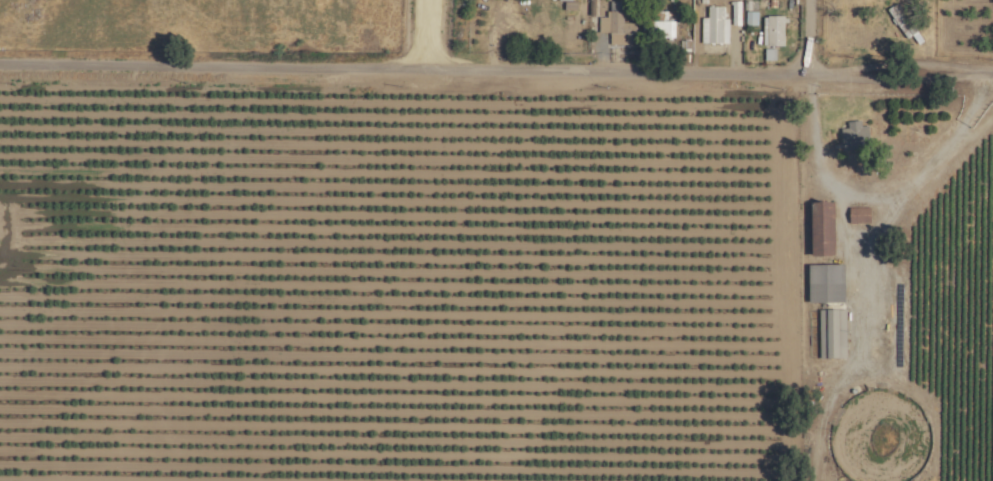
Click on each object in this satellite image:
building: (564, 0)
building: (735, 13)
building: (750, 18)
building: (901, 22)
crop: (230, 25)
building: (714, 27)
building: (616, 29)
building: (662, 29)
building: (772, 31)
road: (444, 33)
road: (805, 36)
building: (769, 55)
road: (222, 65)
road: (718, 71)
building: (855, 134)
road: (880, 199)
building: (858, 215)
building: (821, 229)
building: (825, 283)
crop: (393, 286)
building: (829, 331)

